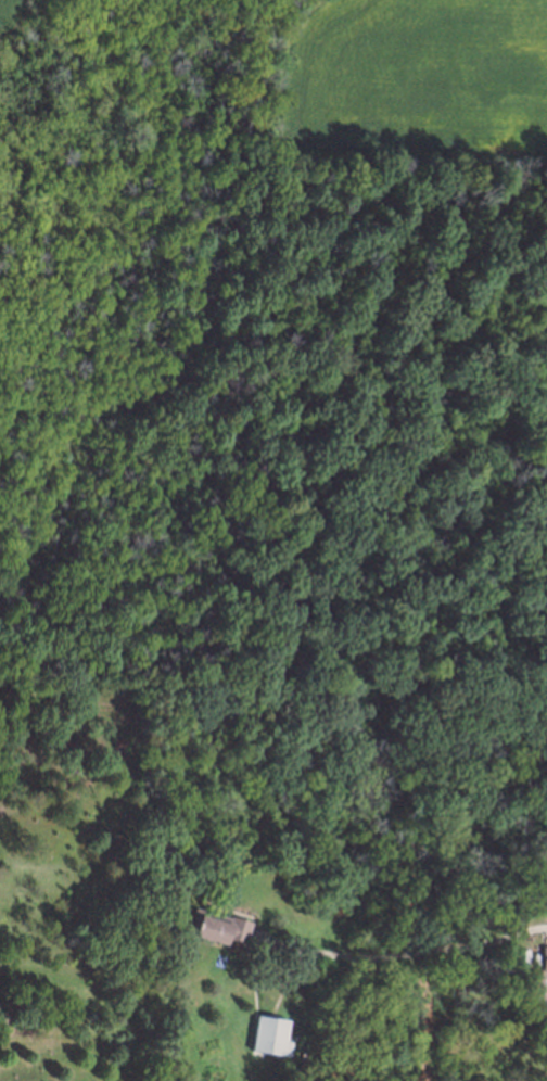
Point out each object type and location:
building: (212, 925)
road: (539, 927)
road: (422, 951)
building: (544, 956)
building: (529, 1023)
building: (263, 1033)

